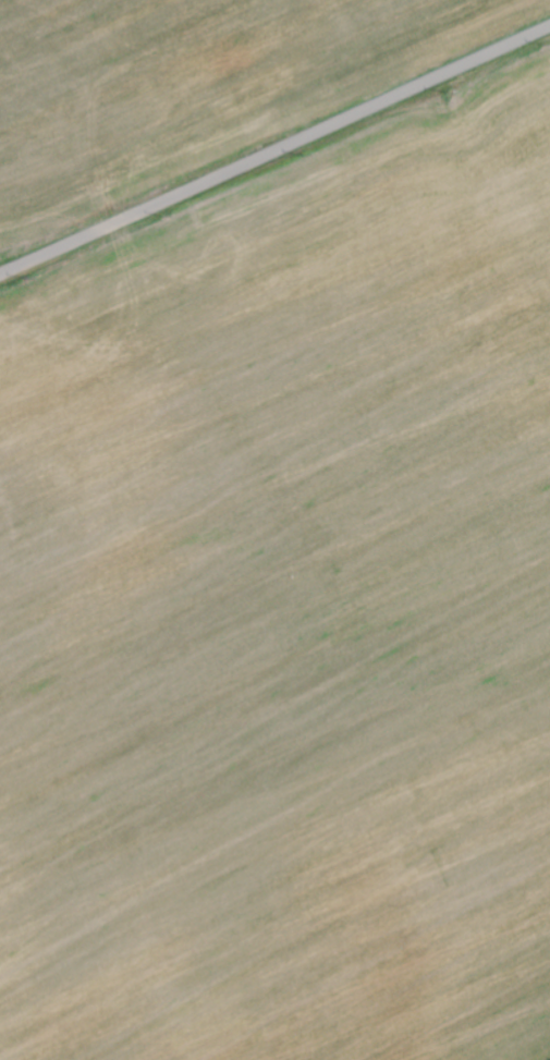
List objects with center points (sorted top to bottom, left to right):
road: (276, 153)

